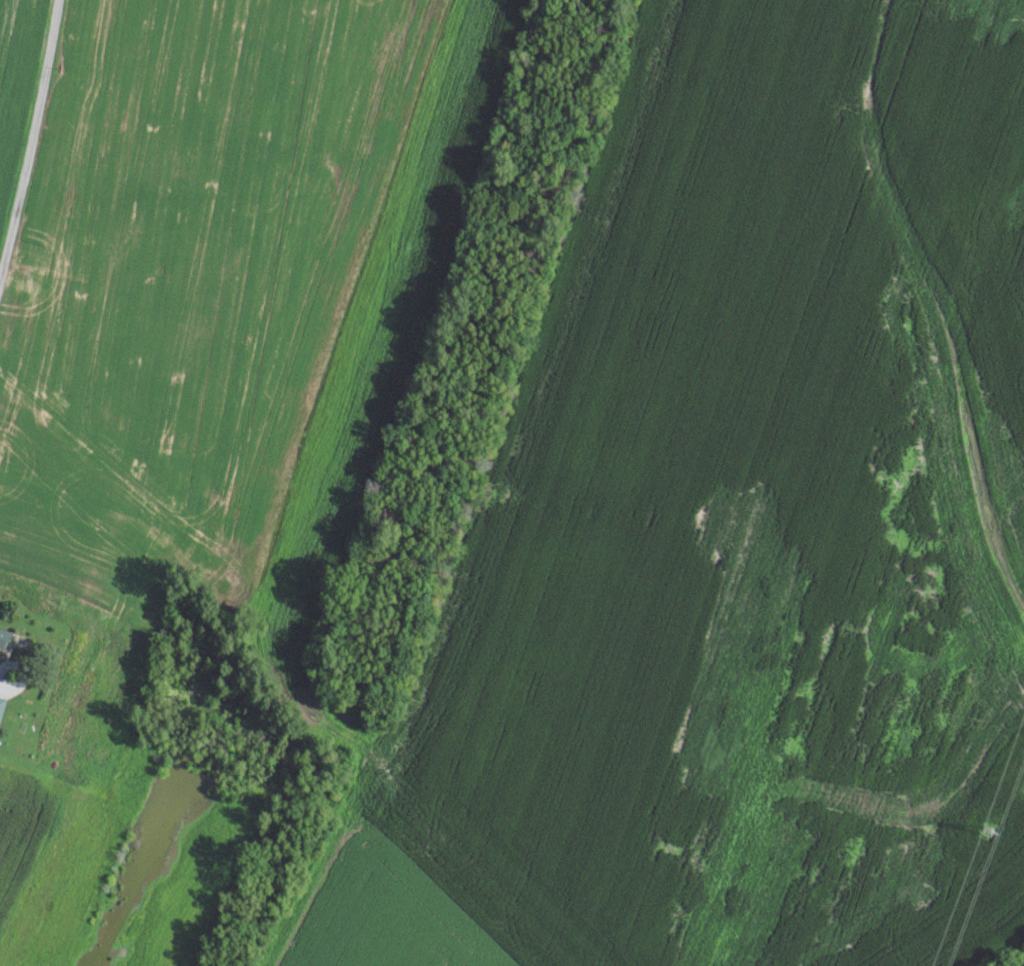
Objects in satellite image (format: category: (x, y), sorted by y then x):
road: (30, 136)
building: (3, 637)
road: (6, 667)
building: (1, 703)
power tower: (988, 828)

